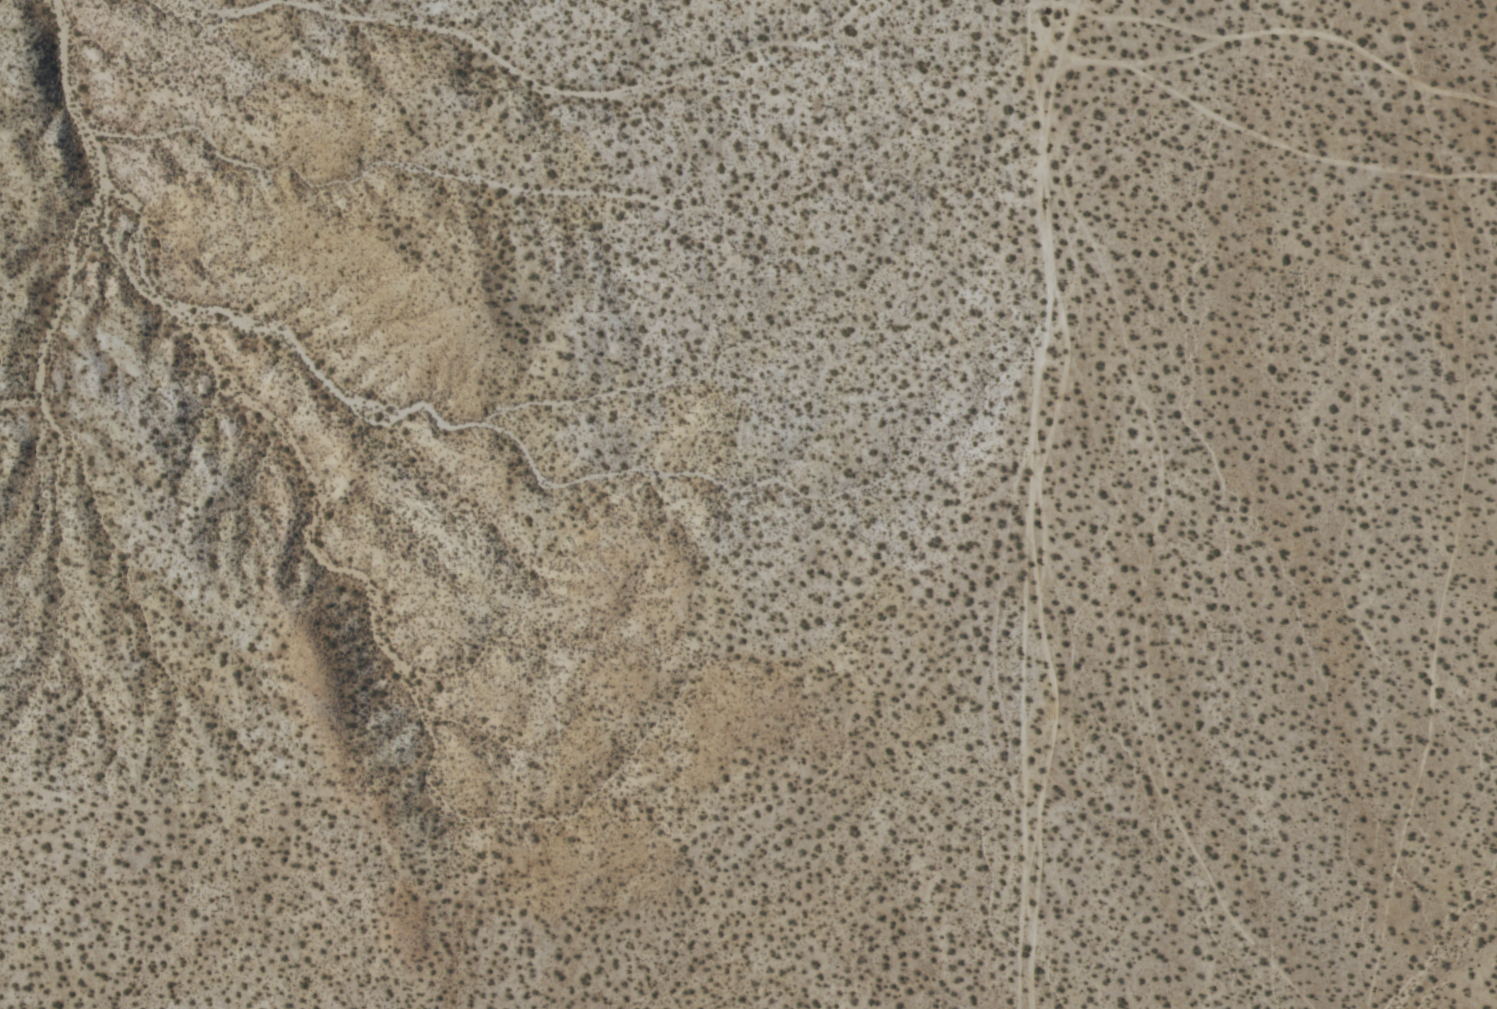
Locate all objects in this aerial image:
crop: (1282, 502)

